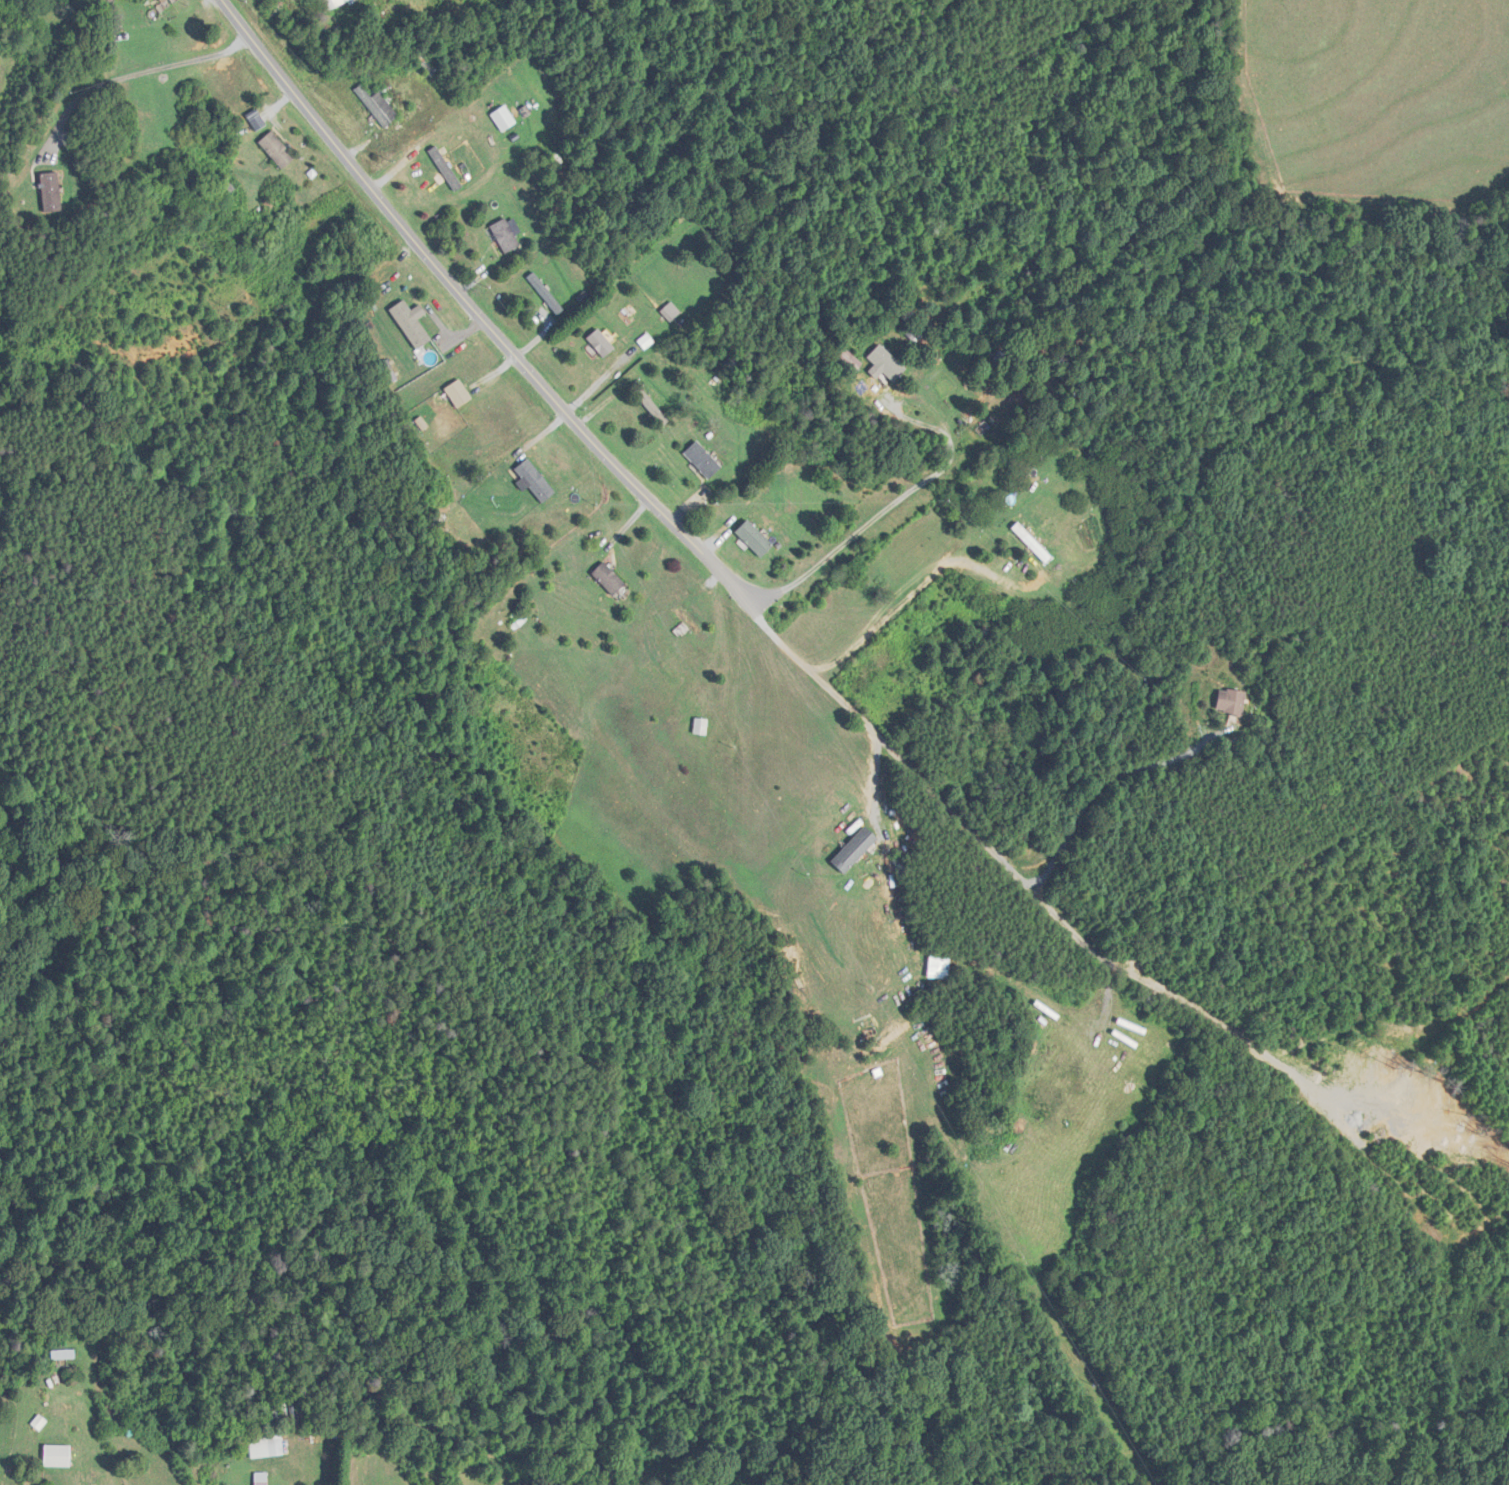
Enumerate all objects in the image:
building: (164, 0)
road: (305, 4)
building: (330, 4)
building: (280, 7)
road: (138, 71)
building: (378, 105)
building: (508, 109)
building: (277, 149)
building: (51, 191)
building: (506, 235)
road: (476, 309)
building: (671, 312)
building: (411, 324)
building: (601, 343)
building: (849, 360)
building: (891, 362)
building: (459, 393)
building: (652, 406)
building: (703, 459)
building: (536, 480)
road: (878, 511)
building: (755, 538)
building: (1035, 542)
building: (609, 578)
road: (906, 597)
building: (689, 620)
building: (518, 621)
road: (839, 696)
building: (1232, 701)
building: (698, 727)
building: (855, 850)
road: (1042, 874)
building: (1042, 1105)
building: (942, 1307)
building: (63, 1354)
building: (58, 1456)
building: (262, 1478)

